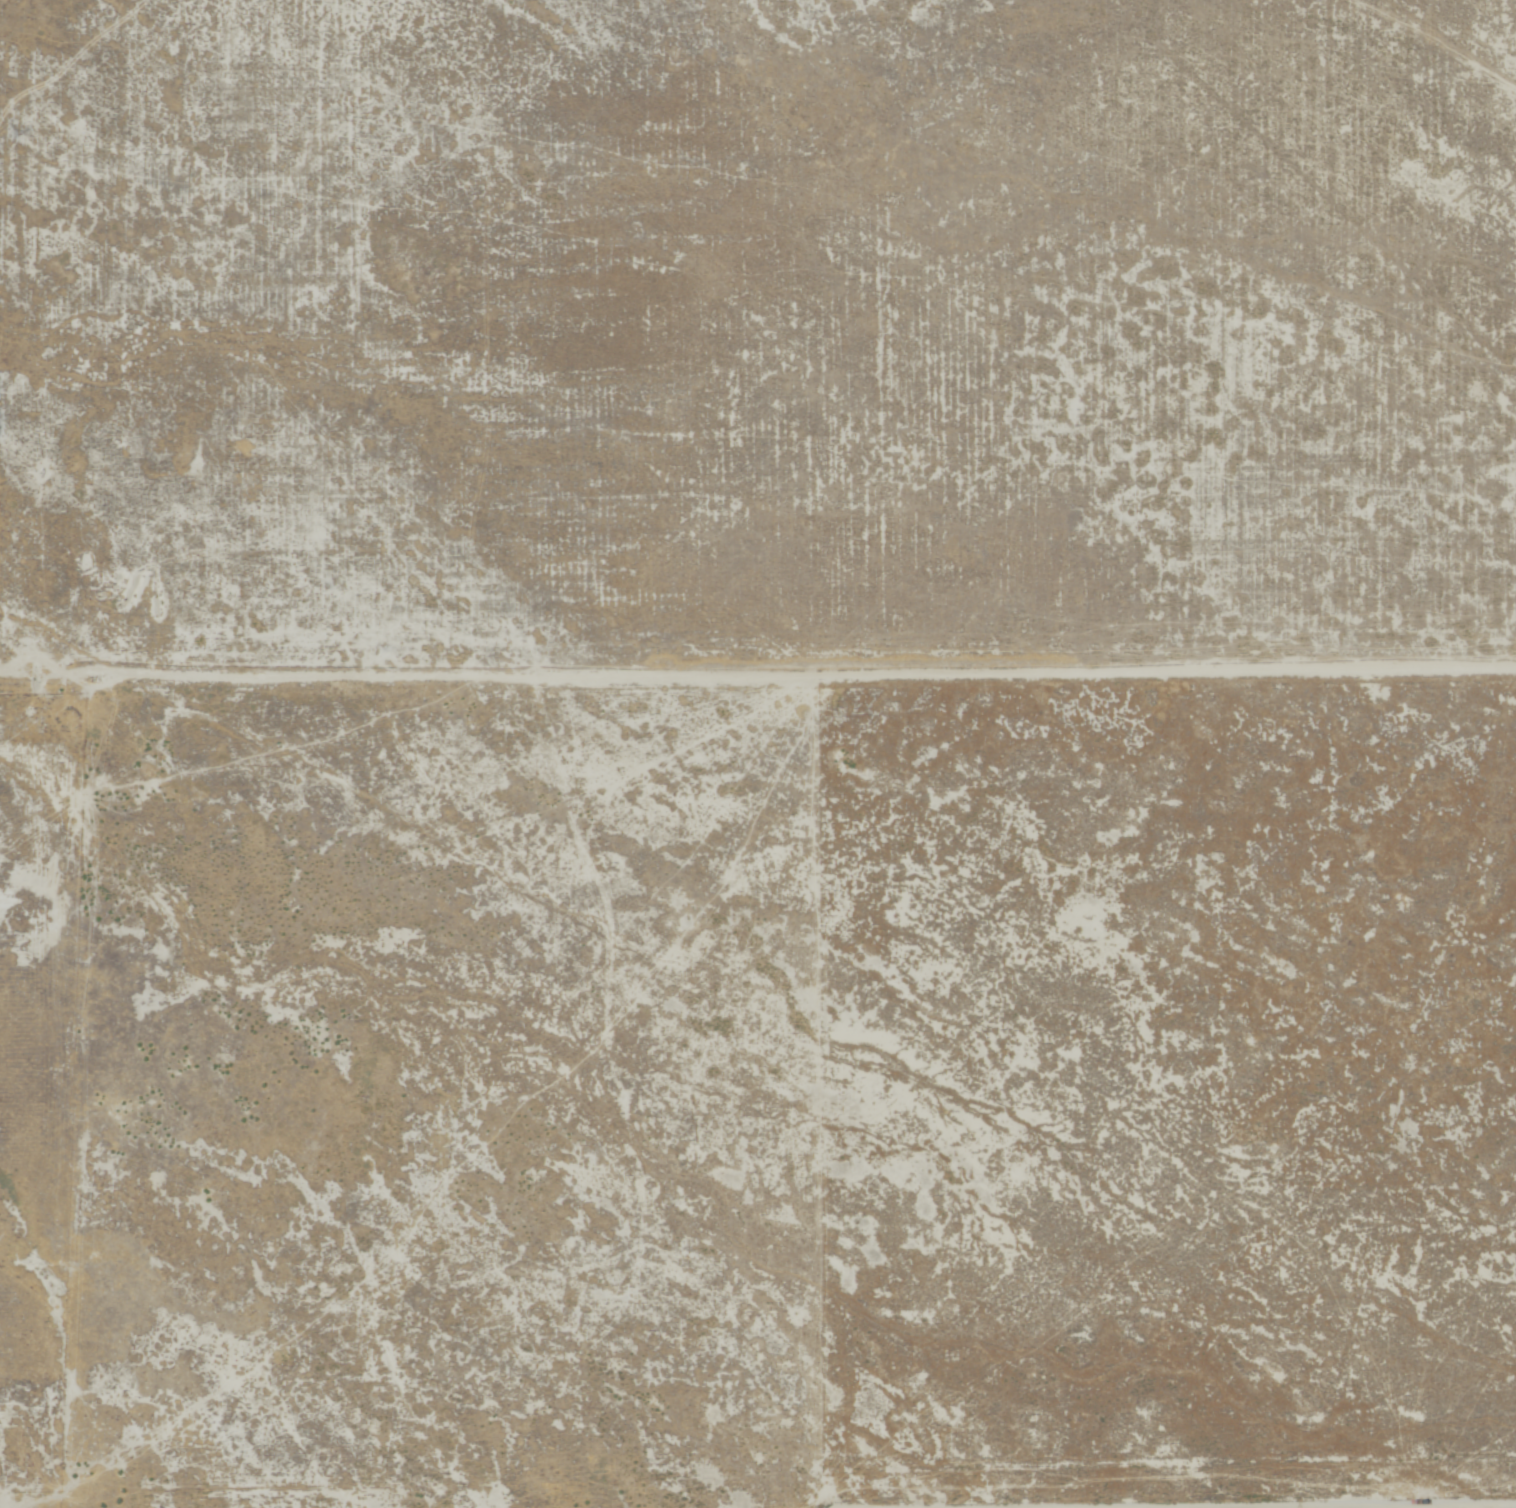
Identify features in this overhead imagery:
crop: (1116, 1505)

